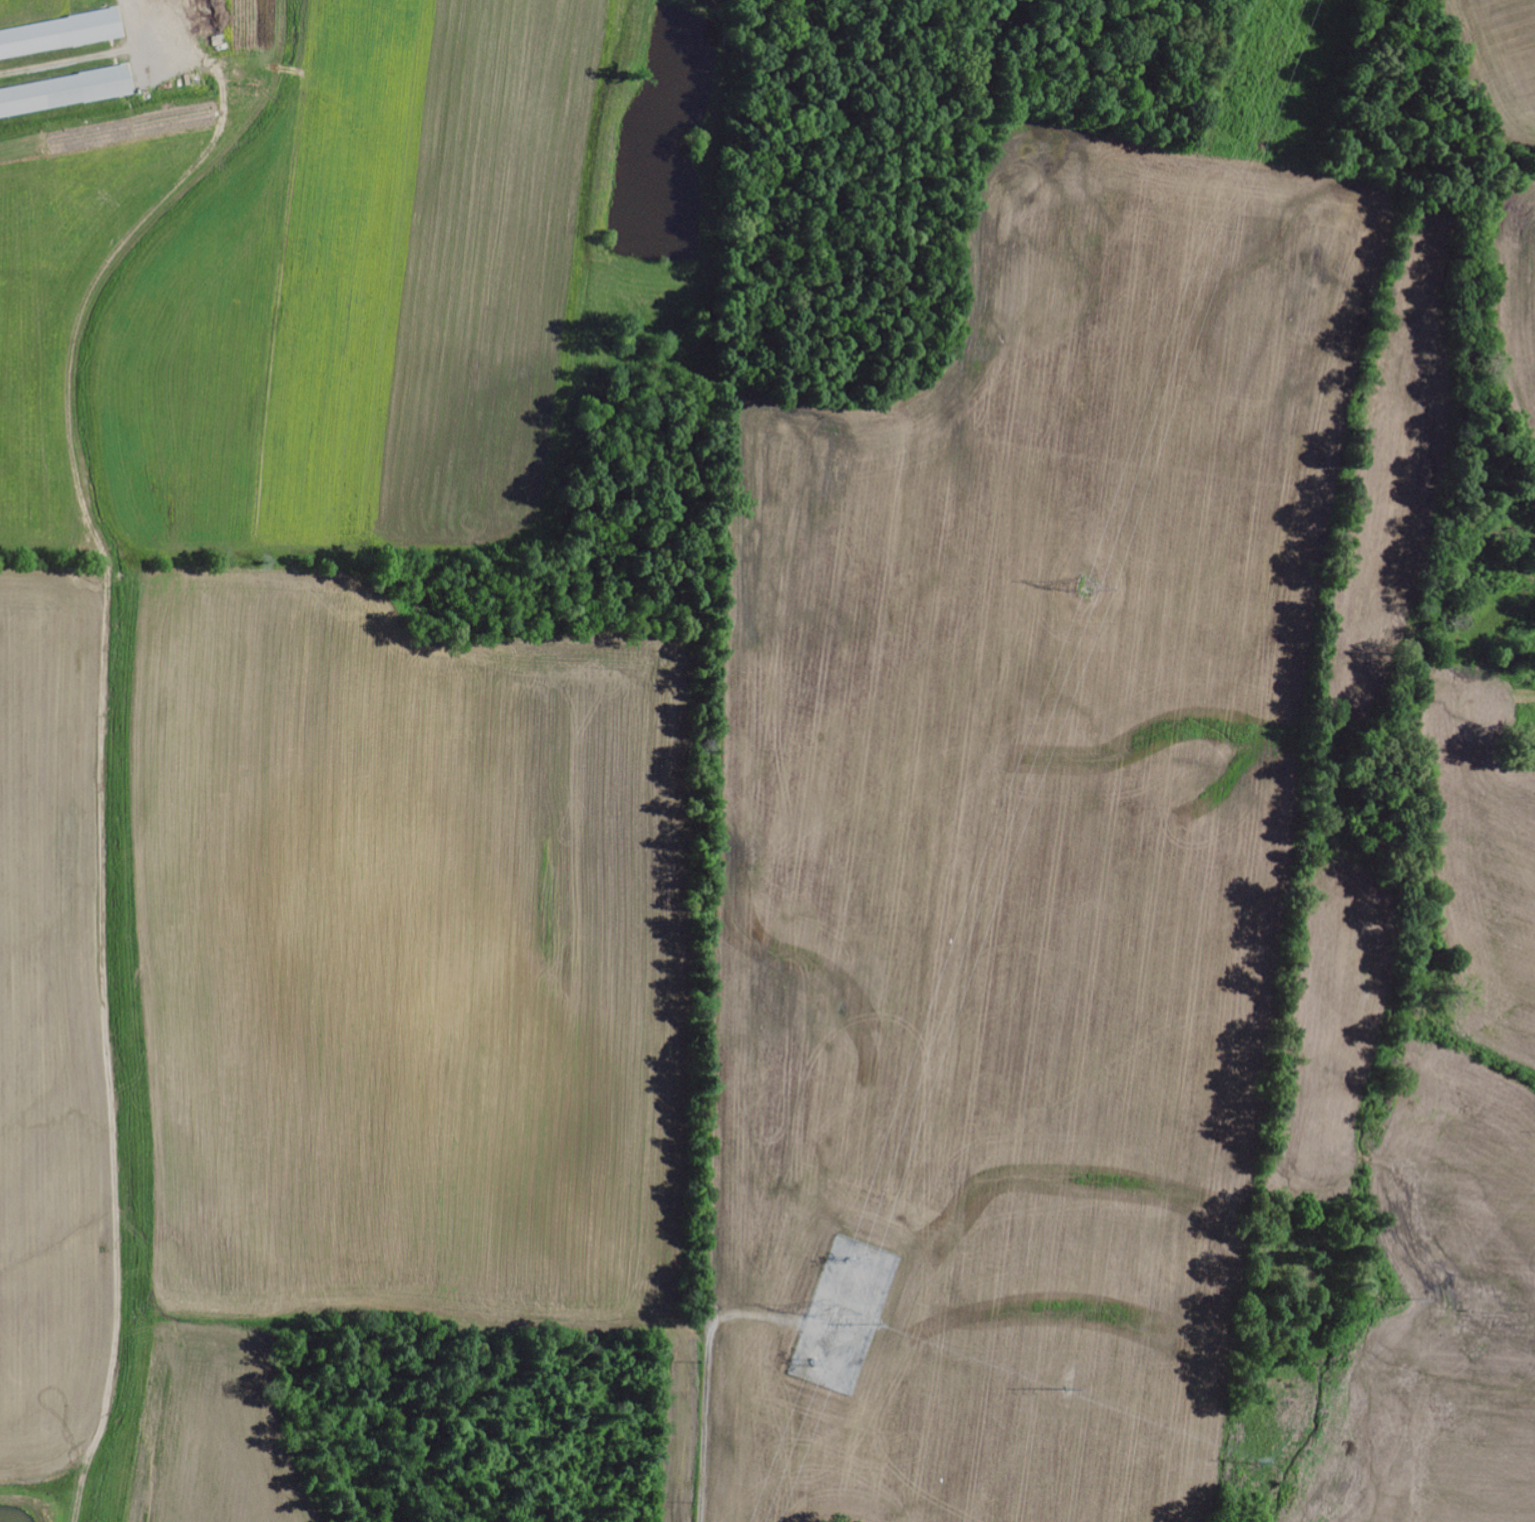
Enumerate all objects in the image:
building: (60, 37)
building: (65, 94)
power tower: (1090, 589)
power tower: (821, 1310)
power substation: (844, 1317)

